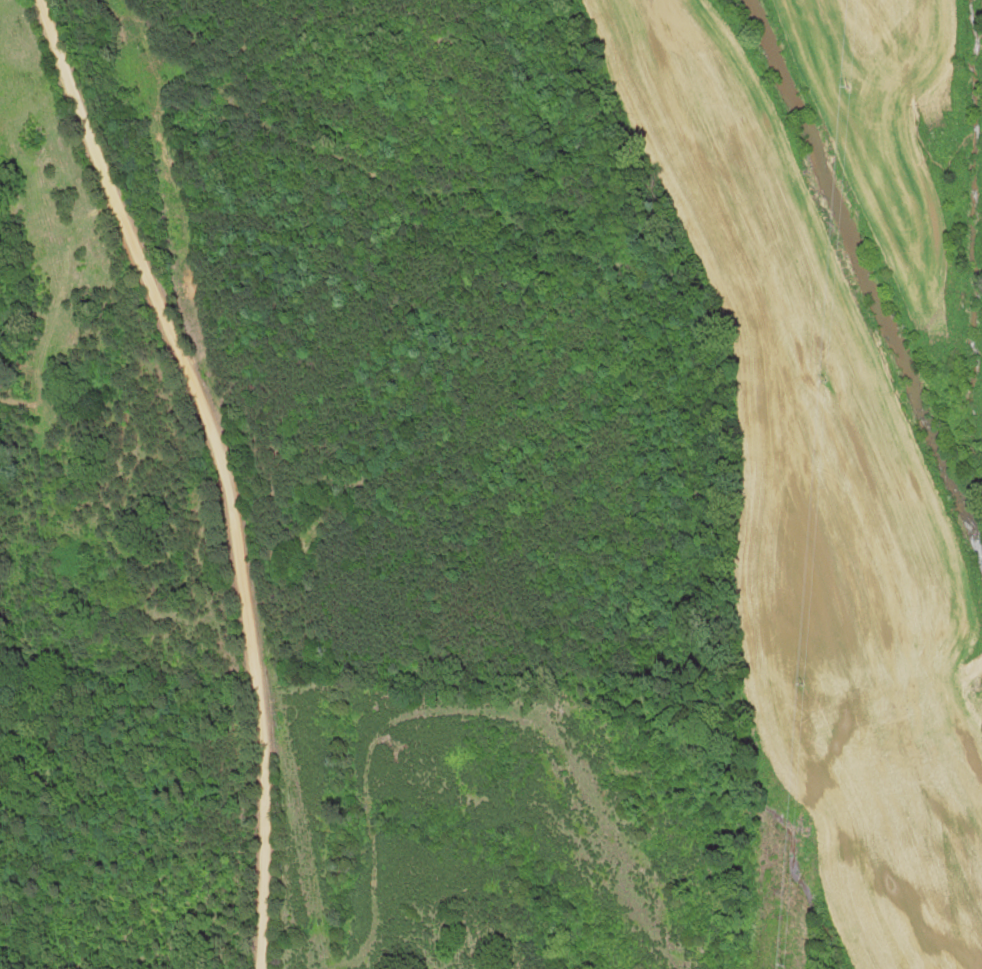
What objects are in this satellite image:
building: (128, 102)
road: (226, 469)

